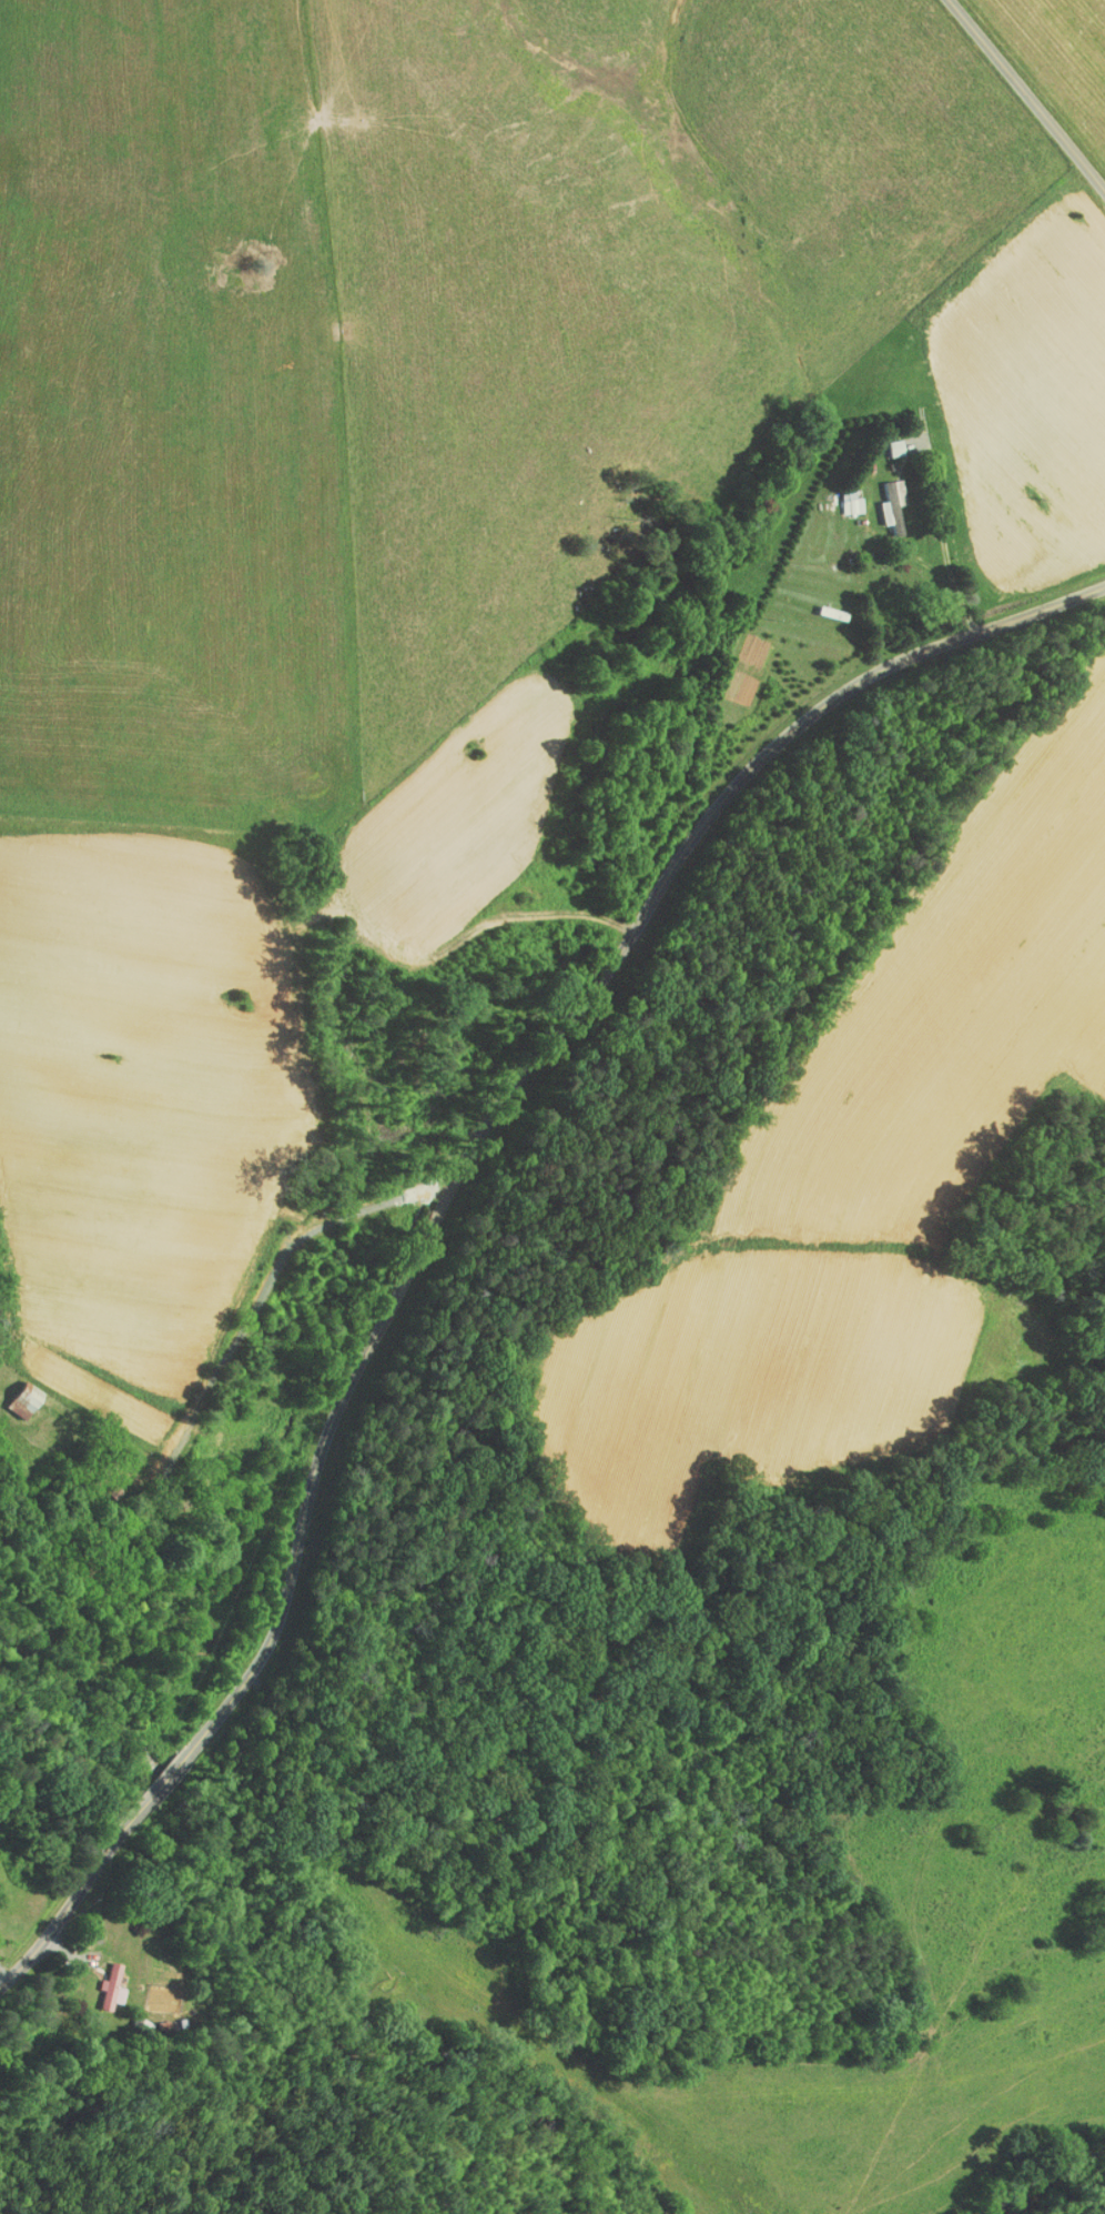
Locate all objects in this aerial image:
road: (1027, 93)
building: (885, 440)
building: (881, 494)
building: (840, 495)
road: (504, 1211)
building: (16, 1395)
building: (101, 1980)

